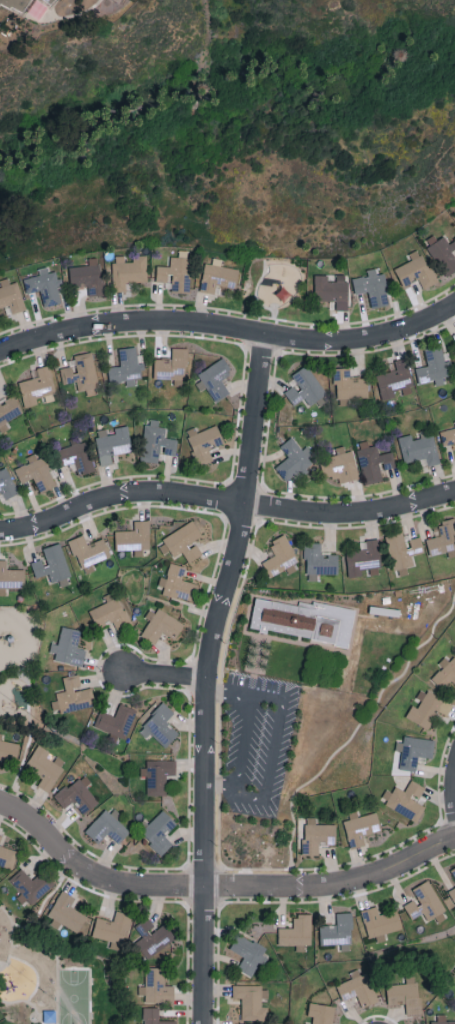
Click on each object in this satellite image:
building: (52, 0)
building: (16, 4)
building: (442, 252)
building: (128, 270)
building: (416, 270)
building: (177, 271)
building: (88, 275)
building: (218, 276)
building: (45, 286)
building: (372, 287)
building: (332, 289)
building: (11, 295)
road: (259, 304)
road: (229, 331)
building: (126, 366)
building: (173, 366)
building: (433, 366)
building: (82, 373)
building: (215, 378)
building: (396, 380)
building: (350, 384)
building: (38, 386)
building: (306, 387)
building: (9, 409)
building: (454, 421)
building: (448, 436)
building: (156, 441)
building: (203, 442)
building: (112, 443)
building: (419, 447)
building: (77, 454)
building: (294, 459)
building: (373, 461)
building: (340, 465)
building: (35, 472)
building: (6, 483)
road: (225, 504)
building: (134, 537)
building: (443, 537)
building: (184, 540)
building: (402, 549)
building: (88, 550)
building: (280, 556)
building: (319, 560)
building: (364, 560)
building: (52, 564)
building: (11, 576)
building: (178, 583)
building: (384, 610)
building: (110, 611)
building: (303, 619)
building: (160, 625)
building: (69, 646)
road: (255, 665)
park: (22, 666)
building: (445, 673)
road: (208, 677)
road: (166, 678)
building: (73, 695)
road: (229, 697)
building: (427, 707)
building: (116, 720)
building: (160, 725)
road: (353, 734)
road: (29, 742)
parking lot: (257, 746)
building: (8, 749)
building: (413, 750)
building: (45, 767)
building: (157, 774)
road: (222, 785)
building: (78, 794)
road: (264, 798)
building: (406, 799)
building: (108, 826)
building: (360, 827)
building: (159, 831)
building: (0, 835)
building: (317, 835)
building: (7, 856)
building: (453, 871)
building: (29, 886)
road: (218, 887)
building: (452, 893)
building: (424, 901)
building: (69, 913)
building: (380, 922)
building: (114, 929)
building: (337, 930)
building: (297, 932)
building: (153, 937)
road: (14, 946)
building: (248, 953)
park: (59, 977)
building: (156, 986)
building: (358, 987)
building: (405, 994)
park: (74, 997)
building: (250, 1001)
building: (321, 1013)
building: (153, 1016)
building: (441, 1020)
building: (247, 1023)
building: (306, 1023)

